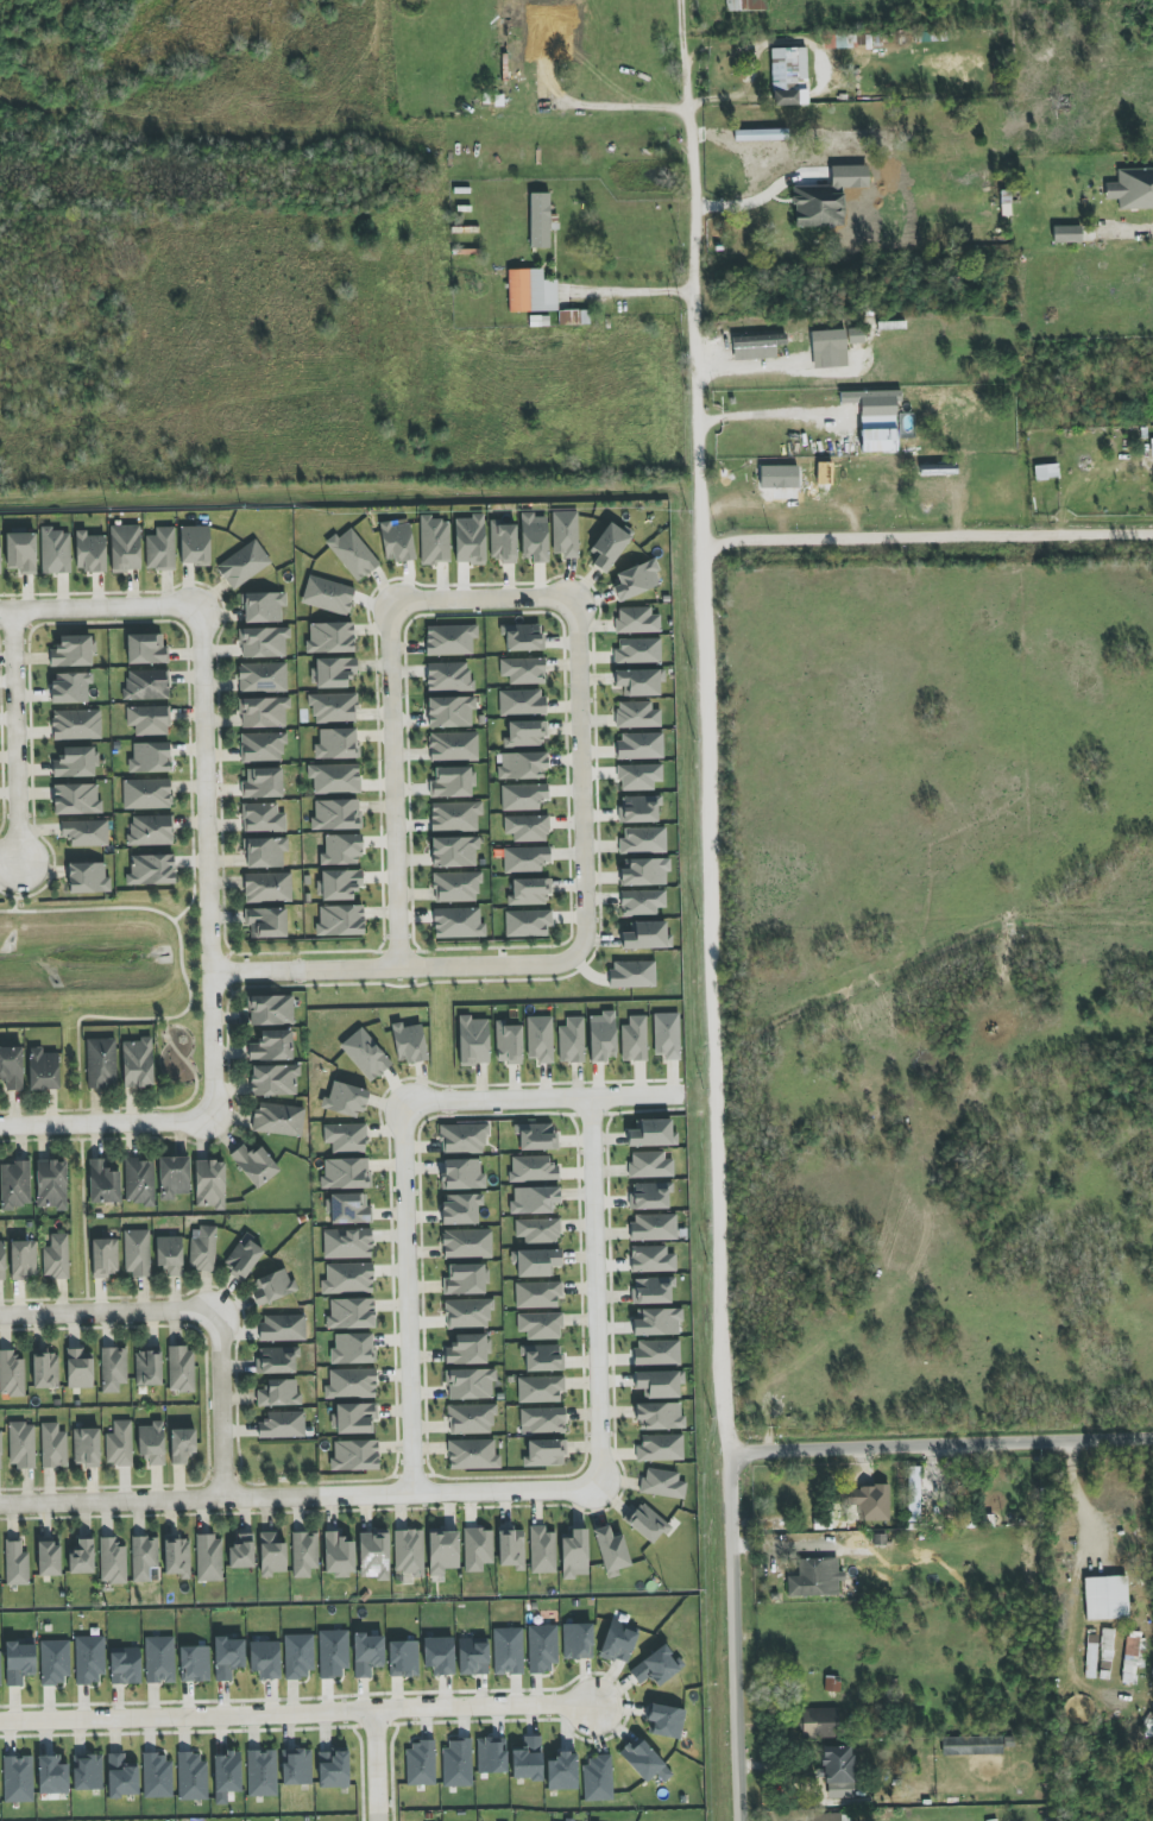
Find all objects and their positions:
building: (746, 5)
road: (692, 36)
building: (541, 71)
building: (788, 76)
building: (1132, 189)
road: (768, 191)
building: (818, 207)
building: (538, 220)
building: (1066, 234)
road: (632, 290)
building: (531, 291)
building: (573, 317)
building: (828, 340)
building: (757, 346)
road: (769, 363)
building: (875, 408)
road: (765, 421)
building: (878, 441)
building: (1152, 447)
building: (1046, 472)
building: (779, 477)
building: (566, 534)
building: (534, 537)
road: (927, 538)
building: (470, 540)
building: (434, 541)
building: (396, 542)
building: (503, 542)
building: (194, 546)
building: (609, 547)
building: (125, 548)
building: (160, 549)
building: (55, 552)
building: (89, 552)
building: (20, 553)
building: (352, 554)
building: (244, 565)
building: (0, 572)
building: (636, 580)
building: (328, 596)
road: (486, 597)
building: (263, 607)
building: (637, 620)
building: (330, 637)
building: (523, 638)
building: (451, 639)
building: (263, 642)
building: (146, 649)
building: (638, 650)
building: (73, 651)
building: (523, 670)
building: (333, 672)
building: (448, 676)
building: (263, 678)
building: (639, 681)
building: (146, 685)
building: (70, 687)
building: (522, 702)
building: (333, 707)
building: (263, 712)
building: (449, 712)
building: (637, 714)
building: (149, 720)
building: (76, 725)
building: (525, 733)
road: (15, 736)
building: (336, 744)
building: (639, 745)
building: (263, 746)
building: (453, 746)
building: (150, 758)
building: (76, 762)
building: (522, 765)
road: (207, 767)
building: (638, 776)
building: (335, 779)
building: (452, 782)
building: (262, 783)
road: (581, 785)
road: (393, 792)
building: (146, 794)
building: (523, 796)
building: (76, 799)
building: (638, 808)
building: (335, 814)
building: (455, 815)
building: (263, 818)
building: (527, 827)
building: (150, 831)
building: (86, 832)
building: (643, 840)
building: (341, 850)
building: (265, 852)
building: (454, 852)
building: (525, 859)
road: (191, 862)
building: (151, 870)
building: (643, 871)
building: (88, 878)
building: (340, 884)
road: (15, 887)
building: (267, 887)
building: (456, 887)
building: (529, 891)
road: (193, 895)
building: (642, 902)
building: (340, 921)
building: (266, 922)
building: (528, 922)
building: (458, 924)
building: (647, 935)
road: (722, 945)
road: (399, 969)
building: (632, 975)
building: (270, 1010)
road: (120, 1017)
building: (667, 1035)
building: (601, 1036)
building: (540, 1039)
building: (634, 1039)
building: (571, 1040)
building: (473, 1041)
building: (409, 1044)
building: (508, 1044)
building: (271, 1046)
building: (365, 1054)
building: (101, 1063)
building: (137, 1063)
park: (175, 1065)
building: (11, 1067)
building: (43, 1070)
building: (273, 1080)
road: (542, 1096)
building: (345, 1099)
road: (182, 1103)
building: (278, 1119)
road: (106, 1126)
building: (653, 1134)
building: (536, 1136)
building: (346, 1138)
building: (464, 1138)
building: (254, 1165)
building: (649, 1165)
building: (534, 1168)
building: (346, 1173)
building: (462, 1174)
building: (174, 1177)
building: (139, 1182)
building: (103, 1183)
building: (51, 1184)
building: (210, 1184)
building: (15, 1185)
building: (649, 1196)
building: (534, 1201)
building: (348, 1209)
building: (461, 1209)
building: (654, 1227)
building: (537, 1230)
building: (347, 1243)
building: (466, 1243)
building: (202, 1249)
building: (137, 1253)
building: (170, 1255)
building: (56, 1258)
building: (105, 1258)
building: (242, 1259)
building: (651, 1259)
building: (23, 1260)
building: (2, 1261)
building: (536, 1262)
building: (348, 1279)
building: (465, 1280)
building: (272, 1286)
building: (653, 1291)
building: (537, 1294)
road: (408, 1300)
road: (106, 1311)
building: (351, 1313)
building: (467, 1313)
building: (656, 1322)
building: (540, 1325)
building: (283, 1328)
building: (353, 1348)
building: (467, 1350)
building: (656, 1353)
building: (542, 1357)
building: (277, 1360)
building: (147, 1367)
building: (80, 1368)
building: (113, 1368)
building: (181, 1369)
building: (45, 1371)
building: (11, 1375)
building: (351, 1384)
building: (470, 1384)
building: (659, 1384)
building: (540, 1388)
building: (278, 1393)
road: (223, 1406)
building: (659, 1416)
building: (354, 1418)
building: (471, 1419)
building: (543, 1419)
building: (282, 1425)
building: (152, 1443)
road: (945, 1443)
building: (119, 1444)
building: (182, 1444)
building: (21, 1445)
building: (53, 1447)
building: (86, 1447)
building: (660, 1448)
building: (0, 1451)
building: (544, 1454)
building: (355, 1455)
building: (472, 1455)
building: (662, 1483)
building: (913, 1494)
road: (493, 1495)
building: (869, 1502)
road: (1080, 1504)
building: (645, 1523)
building: (477, 1549)
building: (511, 1549)
building: (542, 1550)
building: (442, 1551)
building: (611, 1551)
building: (241, 1552)
building: (409, 1552)
building: (304, 1554)
building: (271, 1555)
building: (339, 1555)
building: (374, 1555)
building: (574, 1555)
building: (82, 1557)
building: (144, 1557)
building: (177, 1557)
building: (209, 1558)
building: (49, 1559)
building: (112, 1562)
building: (15, 1564)
building: (815, 1579)
building: (1105, 1598)
building: (576, 1642)
building: (618, 1642)
building: (542, 1649)
building: (508, 1651)
building: (333, 1653)
building: (1105, 1653)
building: (300, 1655)
building: (367, 1655)
building: (439, 1656)
building: (1133, 1656)
building: (228, 1657)
building: (473, 1657)
building: (1091, 1657)
building: (403, 1658)
building: (89, 1659)
building: (159, 1659)
building: (265, 1659)
building: (19, 1662)
building: (53, 1663)
building: (194, 1664)
building: (125, 1665)
building: (656, 1666)
building: (0, 1671)
road: (297, 1719)
building: (666, 1721)
building: (819, 1722)
building: (975, 1745)
building: (491, 1754)
building: (528, 1760)
building: (644, 1760)
building: (458, 1763)
building: (420, 1764)
building: (296, 1766)
building: (333, 1769)
road: (374, 1769)
building: (837, 1771)
building: (87, 1772)
building: (562, 1772)
building: (262, 1773)
building: (52, 1775)
building: (157, 1776)
building: (191, 1776)
building: (226, 1776)
building: (121, 1777)
building: (598, 1778)
building: (18, 1779)
building: (831, 1816)

